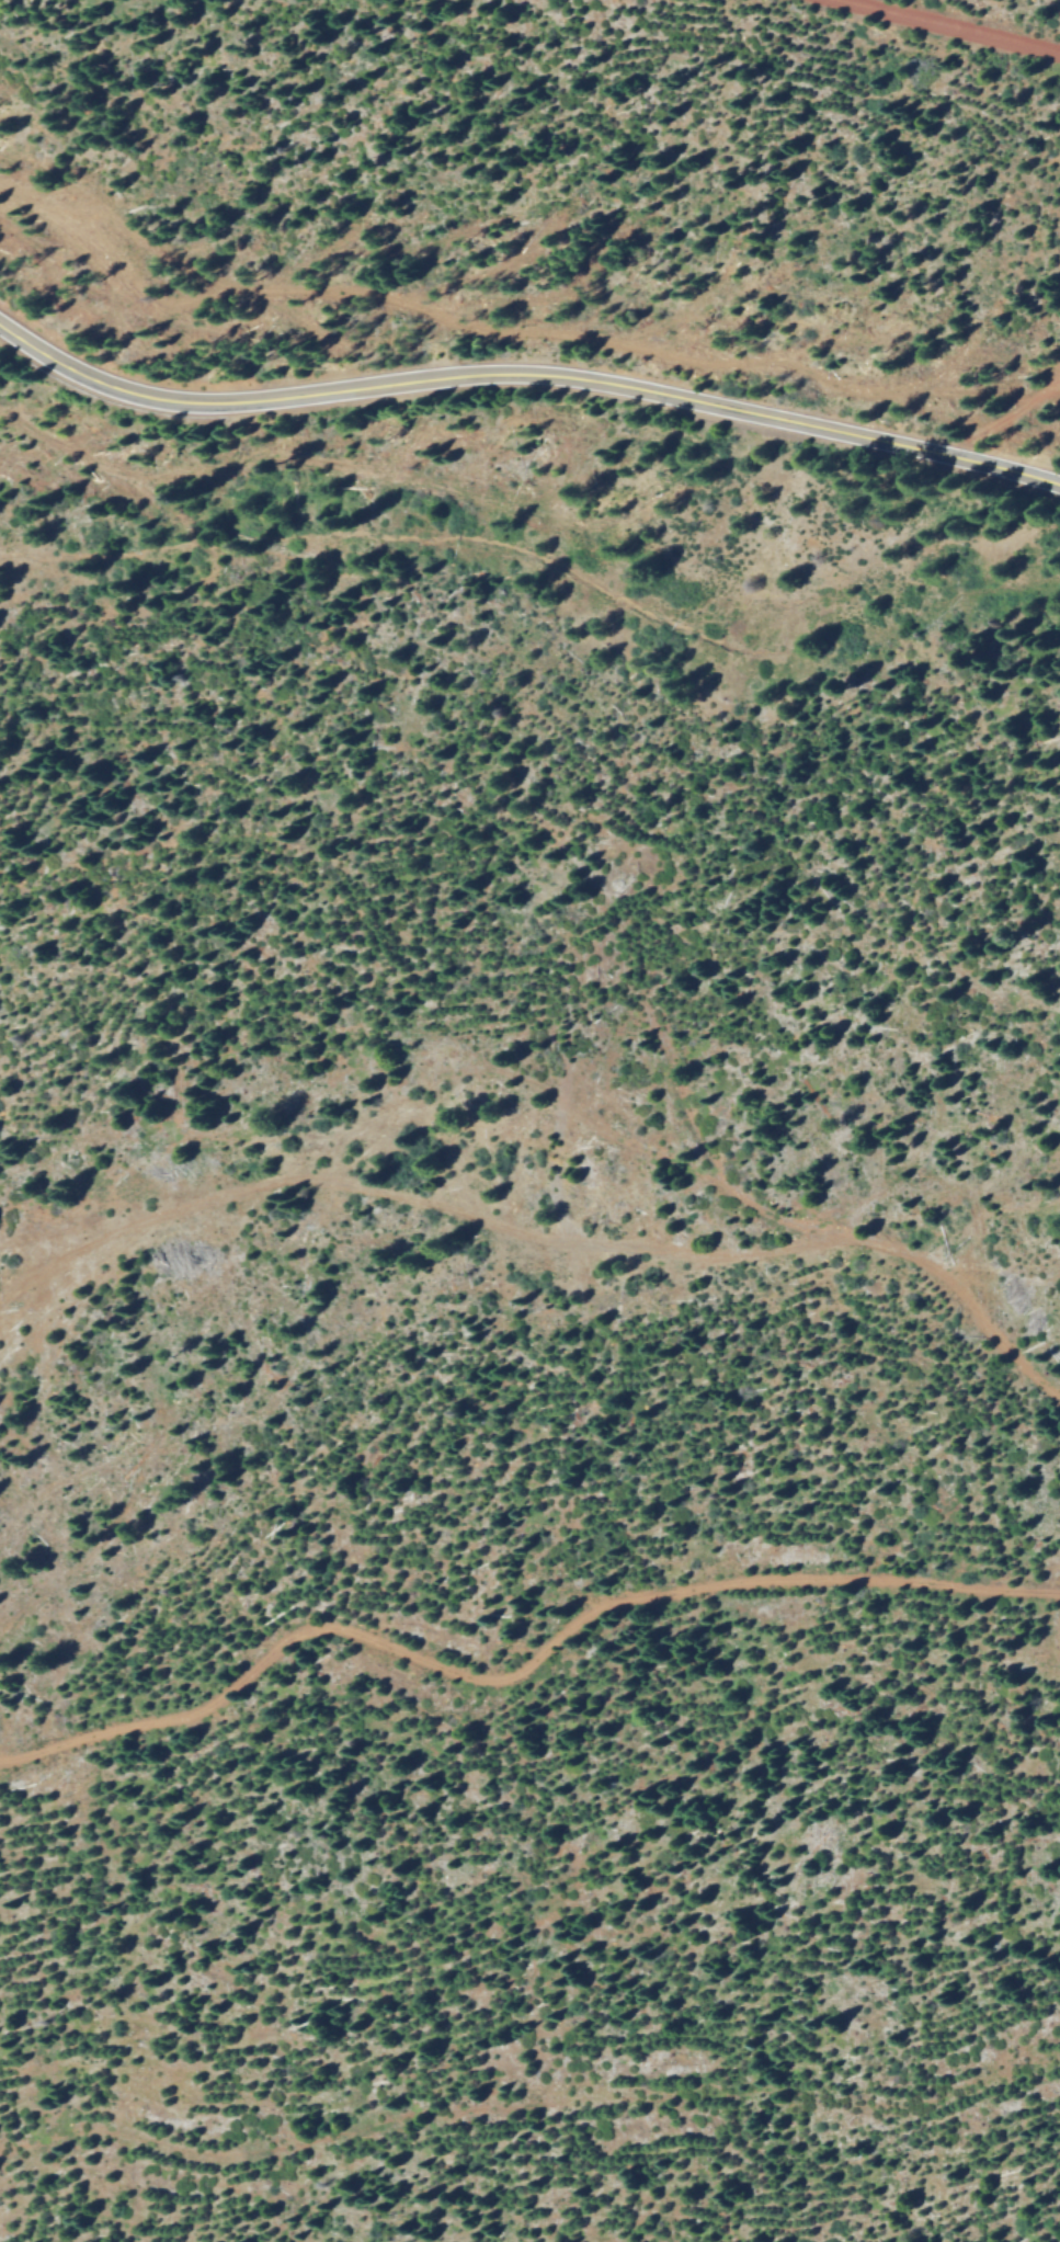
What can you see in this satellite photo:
road: (950, 27)
road: (525, 371)
road: (1006, 417)

